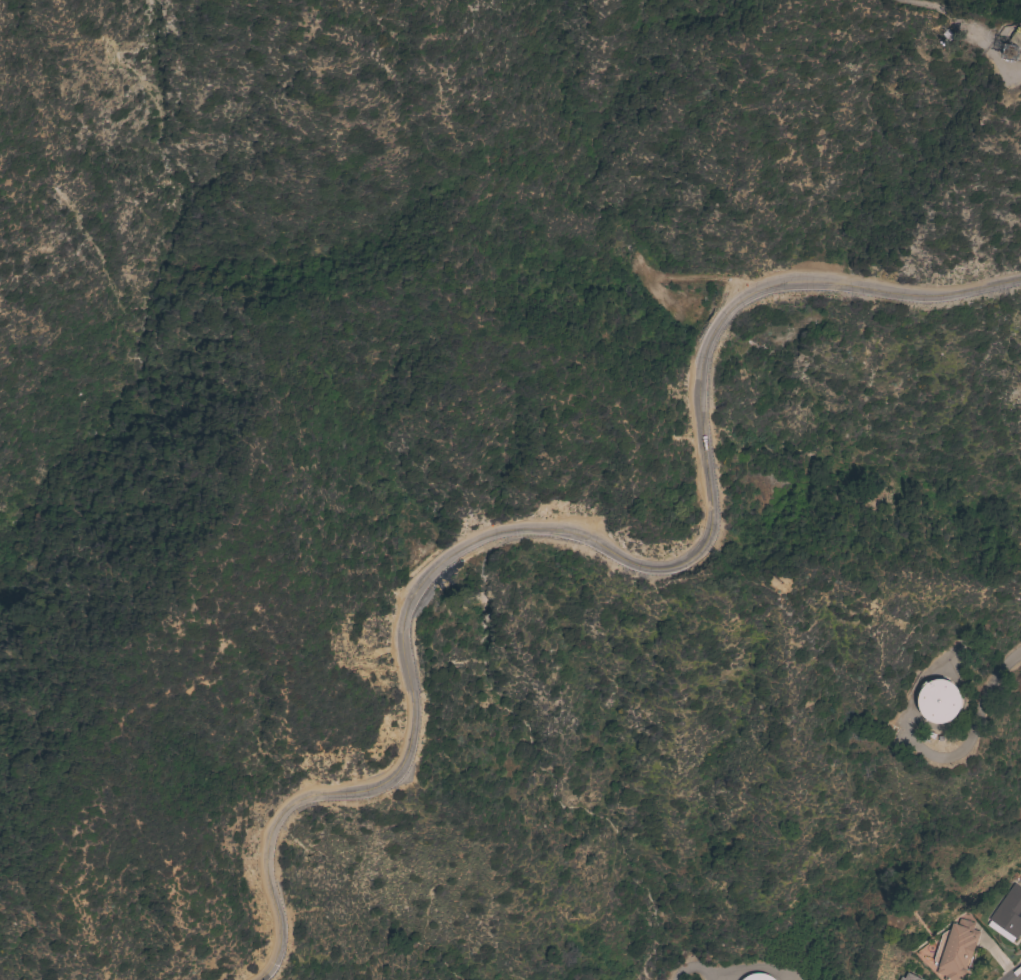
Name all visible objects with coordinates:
road: (973, 23)
building: (1019, 42)
road: (582, 542)
building: (939, 701)
building: (1008, 915)
building: (957, 952)
building: (758, 977)
road: (1019, 978)

